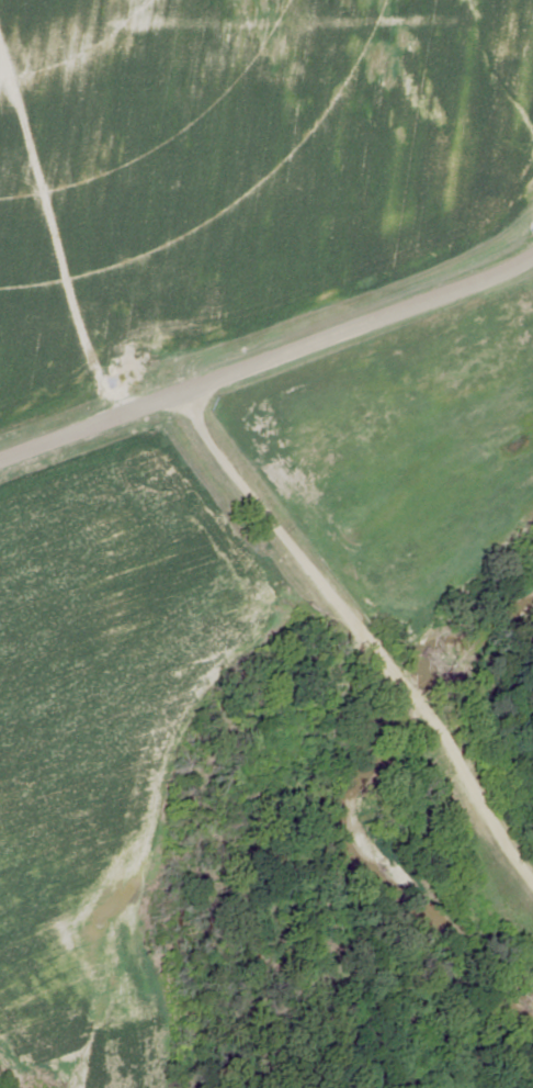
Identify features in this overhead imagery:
road: (269, 346)

